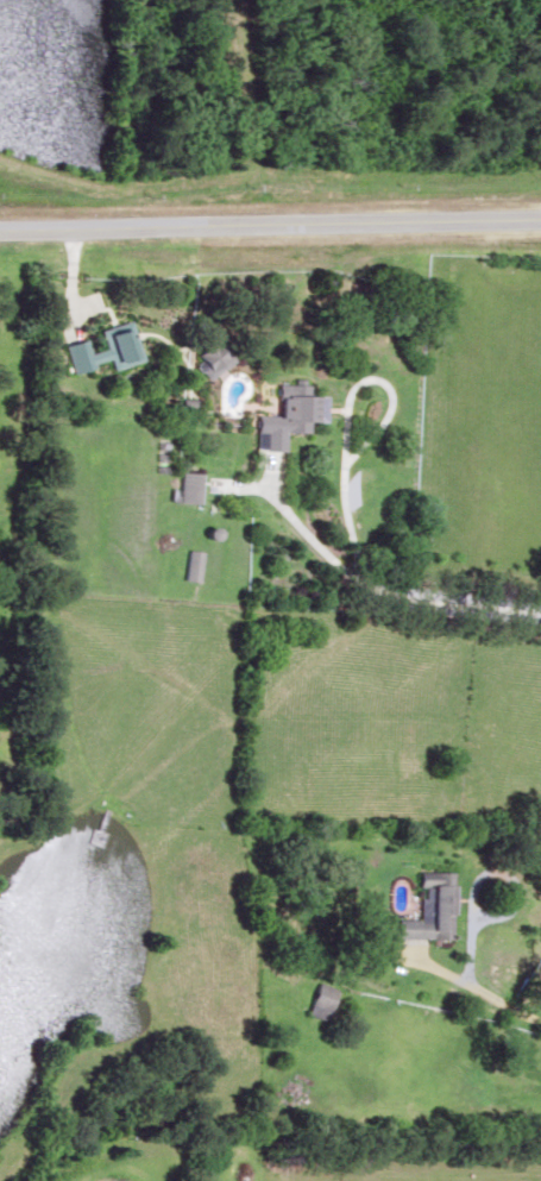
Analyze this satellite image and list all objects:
road: (270, 221)
building: (99, 348)
building: (205, 359)
road: (373, 376)
building: (279, 419)
building: (187, 488)
building: (189, 565)
road: (378, 605)
road: (505, 877)
building: (427, 907)
road: (477, 988)
building: (319, 999)

